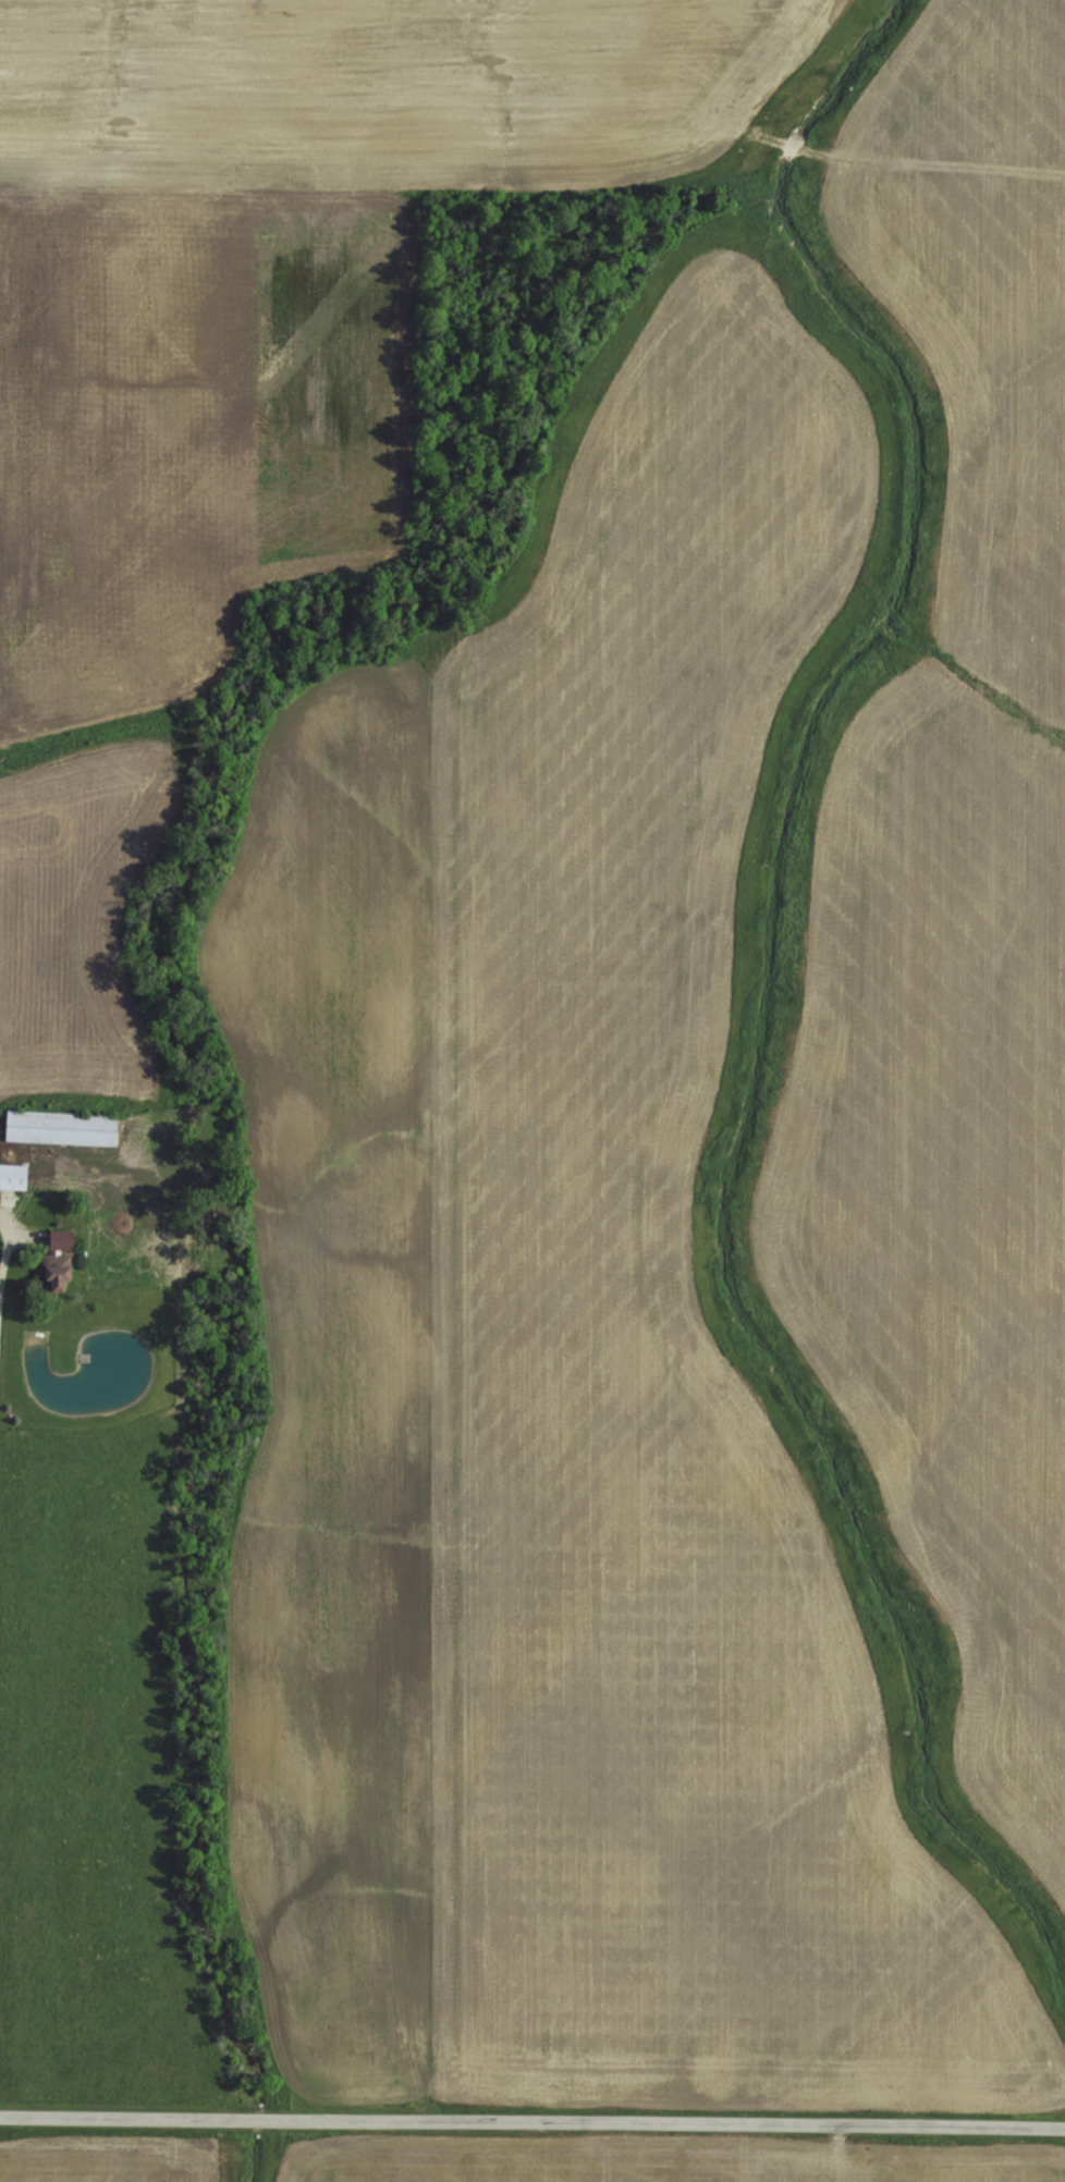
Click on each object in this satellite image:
building: (63, 1126)
building: (14, 1174)
building: (64, 1236)
road: (532, 2109)

